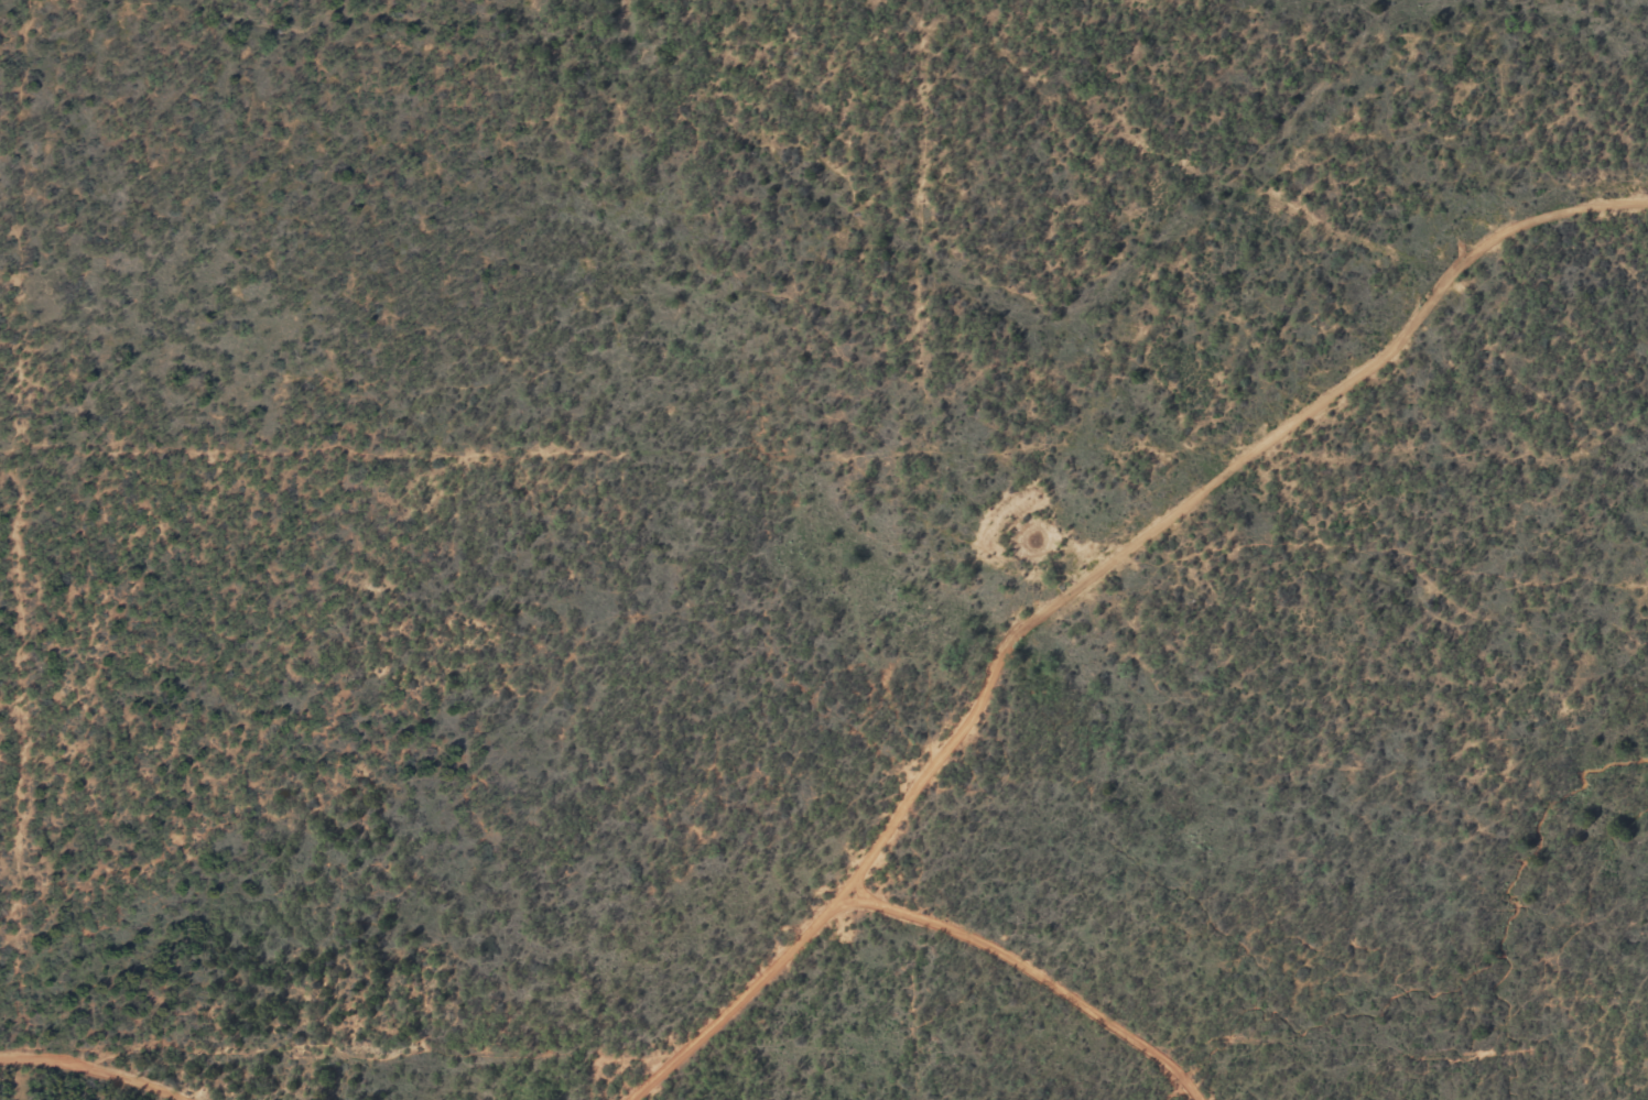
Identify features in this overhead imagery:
road: (1115, 591)
road: (76, 1070)

